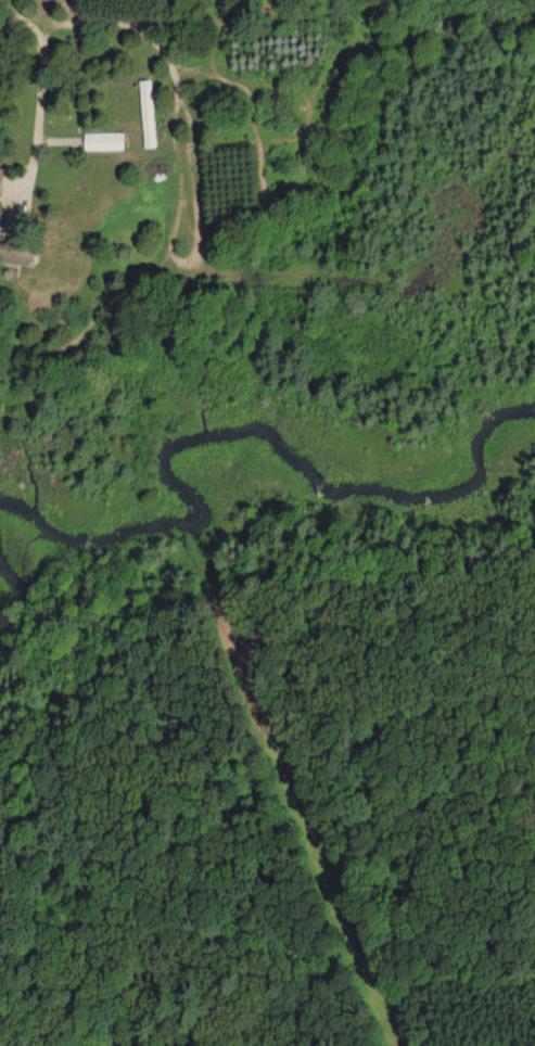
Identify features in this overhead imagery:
building: (151, 113)
building: (107, 141)
building: (3, 181)

